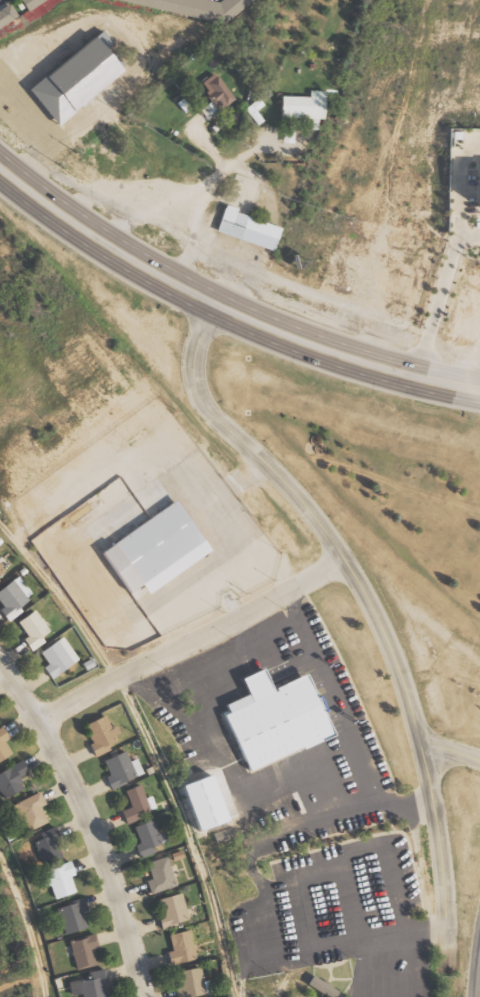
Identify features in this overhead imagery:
building: (34, 3)
building: (201, 6)
building: (8, 16)
building: (74, 75)
building: (220, 90)
building: (186, 104)
building: (308, 106)
building: (211, 109)
building: (257, 110)
building: (290, 135)
building: (246, 228)
road: (102, 242)
road: (434, 307)
road: (343, 355)
building: (156, 544)
building: (0, 574)
building: (10, 599)
road: (371, 610)
building: (29, 632)
road: (190, 640)
building: (54, 660)
building: (282, 715)
building: (97, 737)
road: (151, 743)
road: (449, 749)
building: (3, 751)
building: (114, 772)
building: (9, 781)
building: (211, 802)
building: (131, 807)
building: (24, 816)
road: (89, 827)
building: (143, 840)
building: (43, 848)
building: (157, 877)
building: (56, 883)
building: (169, 914)
building: (68, 919)
road: (26, 927)
building: (177, 951)
building: (80, 953)
building: (187, 984)
building: (90, 986)
building: (327, 987)

